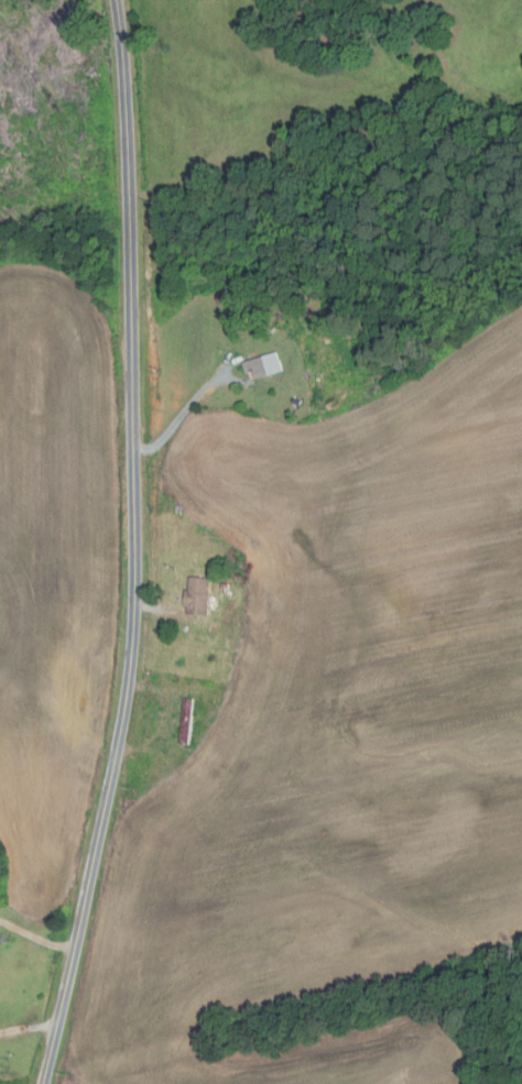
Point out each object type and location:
building: (264, 364)
building: (296, 401)
road: (180, 417)
road: (134, 546)
crop: (54, 570)
building: (225, 587)
building: (197, 595)
road: (157, 609)
building: (186, 721)
crop: (334, 743)
road: (35, 937)
road: (28, 1027)

